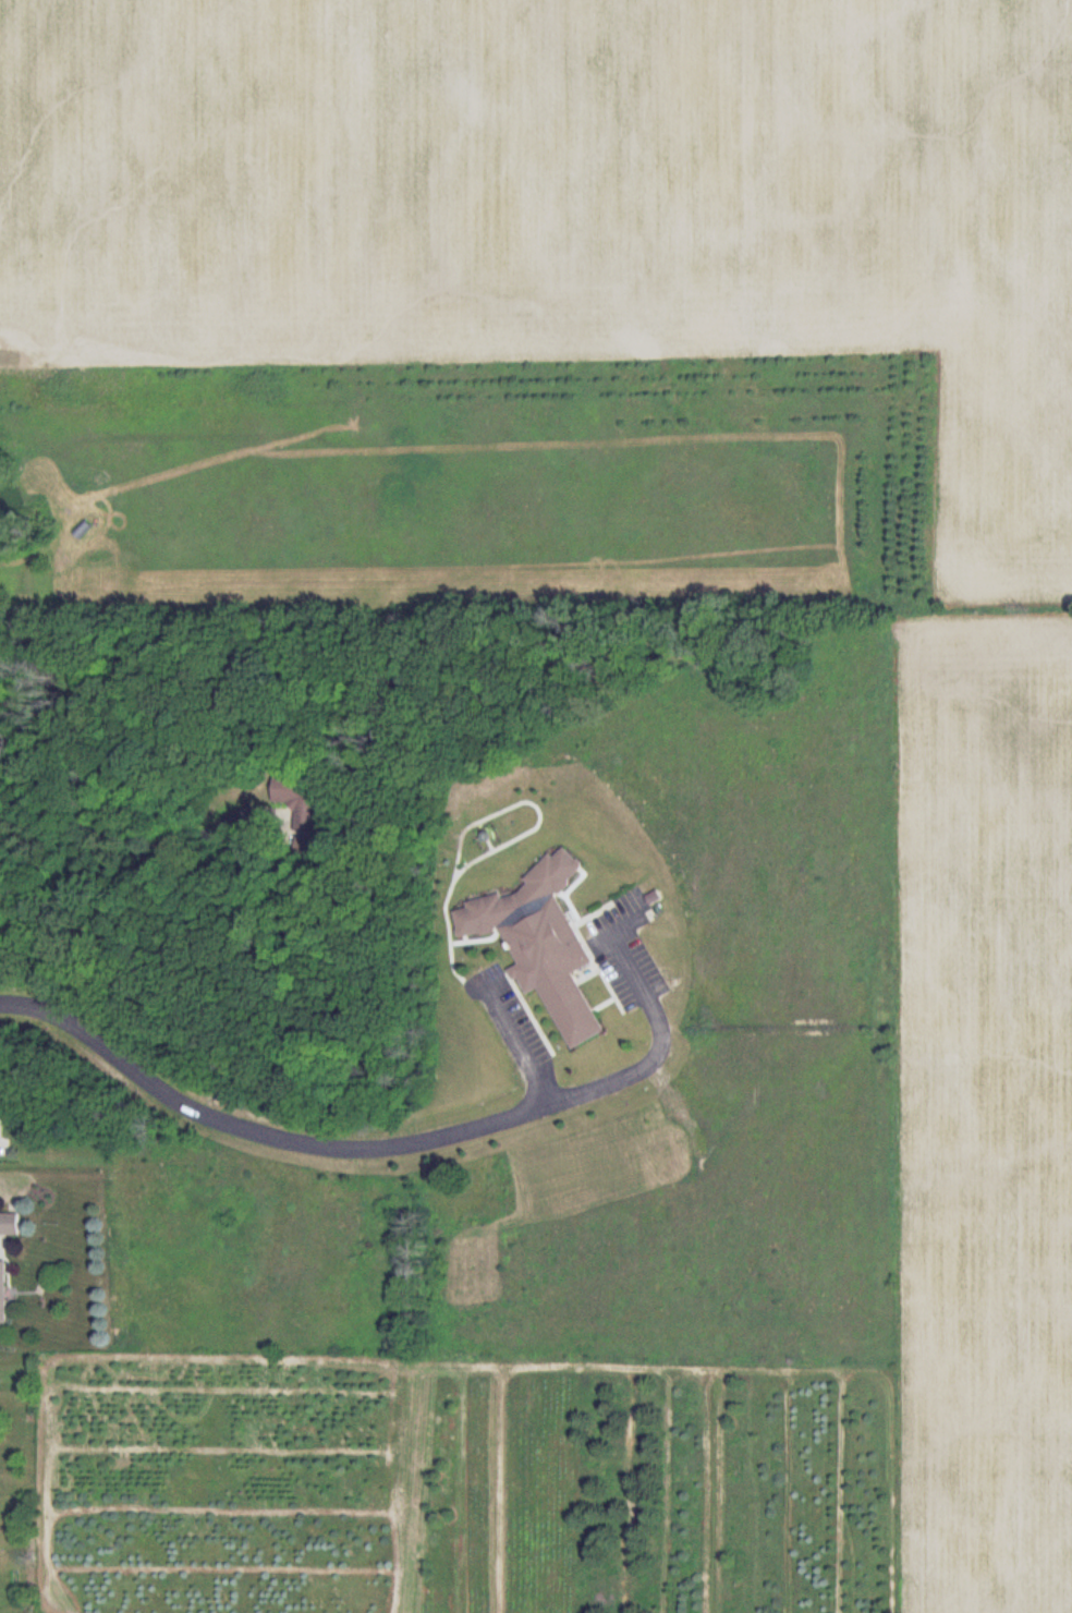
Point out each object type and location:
building: (290, 793)
building: (541, 943)
road: (523, 1046)
road: (383, 1144)
building: (9, 1224)
building: (2, 1293)

